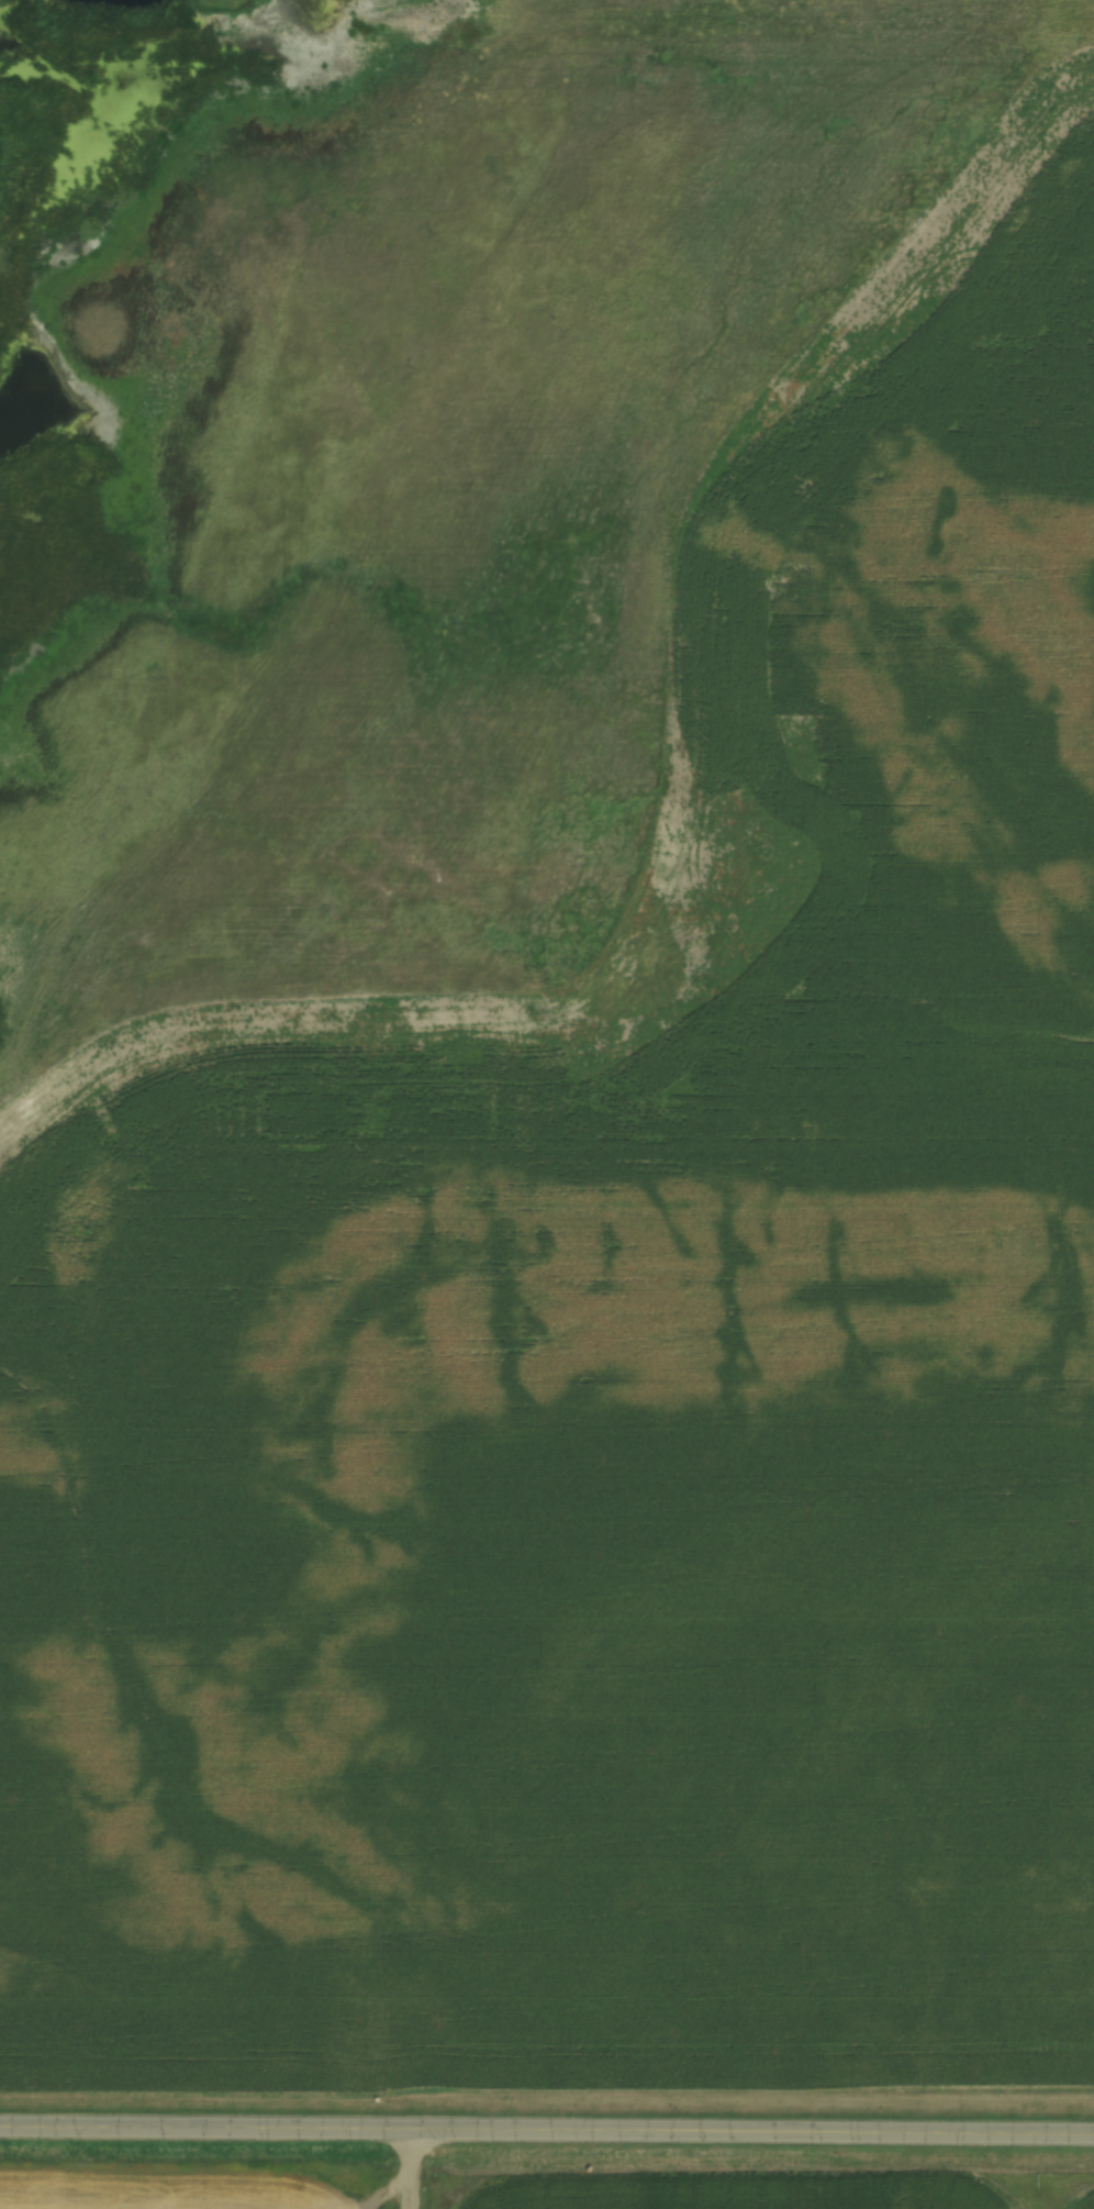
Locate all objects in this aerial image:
road: (547, 2127)
road: (408, 2167)
crop: (174, 2186)

